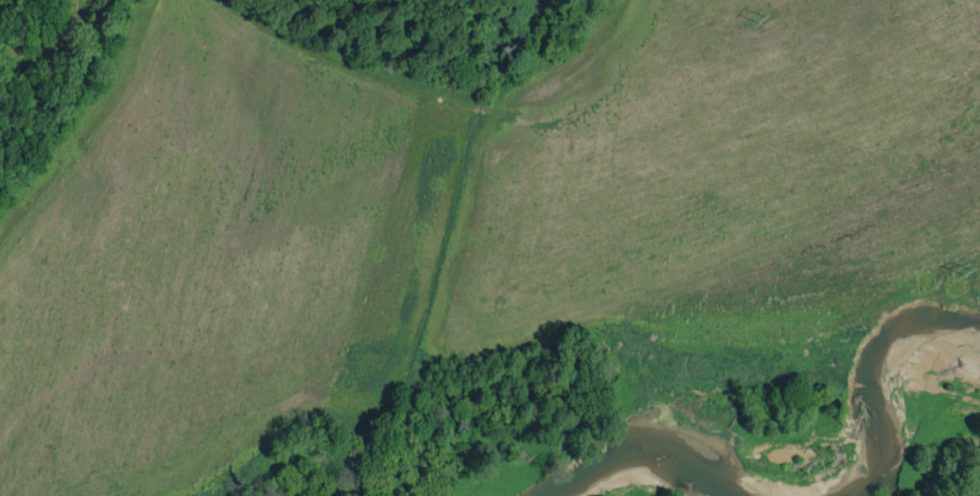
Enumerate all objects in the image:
power tower: (760, 17)
river: (870, 388)
river: (658, 450)

